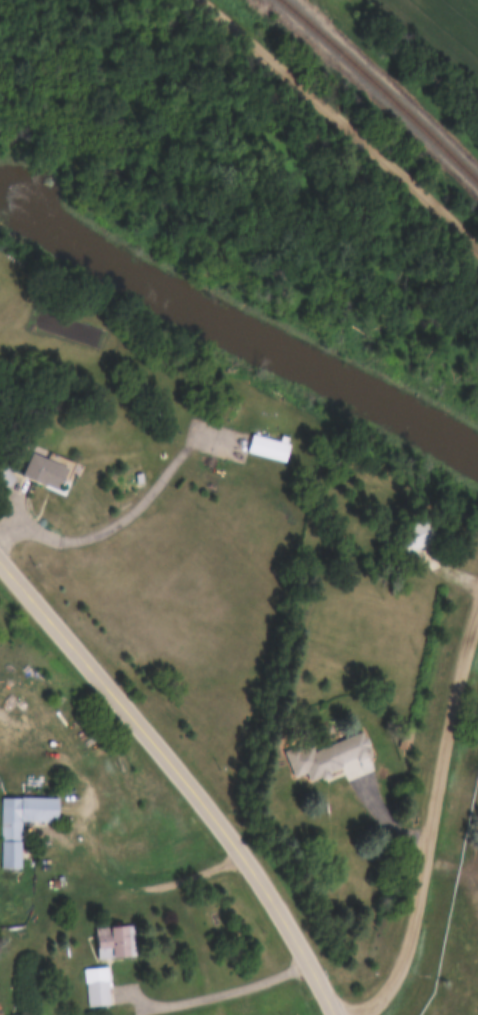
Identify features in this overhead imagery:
railway: (380, 90)
road: (344, 120)
river: (240, 331)
building: (273, 447)
building: (46, 471)
road: (132, 508)
building: (416, 535)
road: (414, 540)
building: (330, 757)
road: (182, 776)
road: (431, 817)
building: (11, 833)
road: (82, 852)
building: (118, 942)
road: (216, 992)
building: (99, 994)

